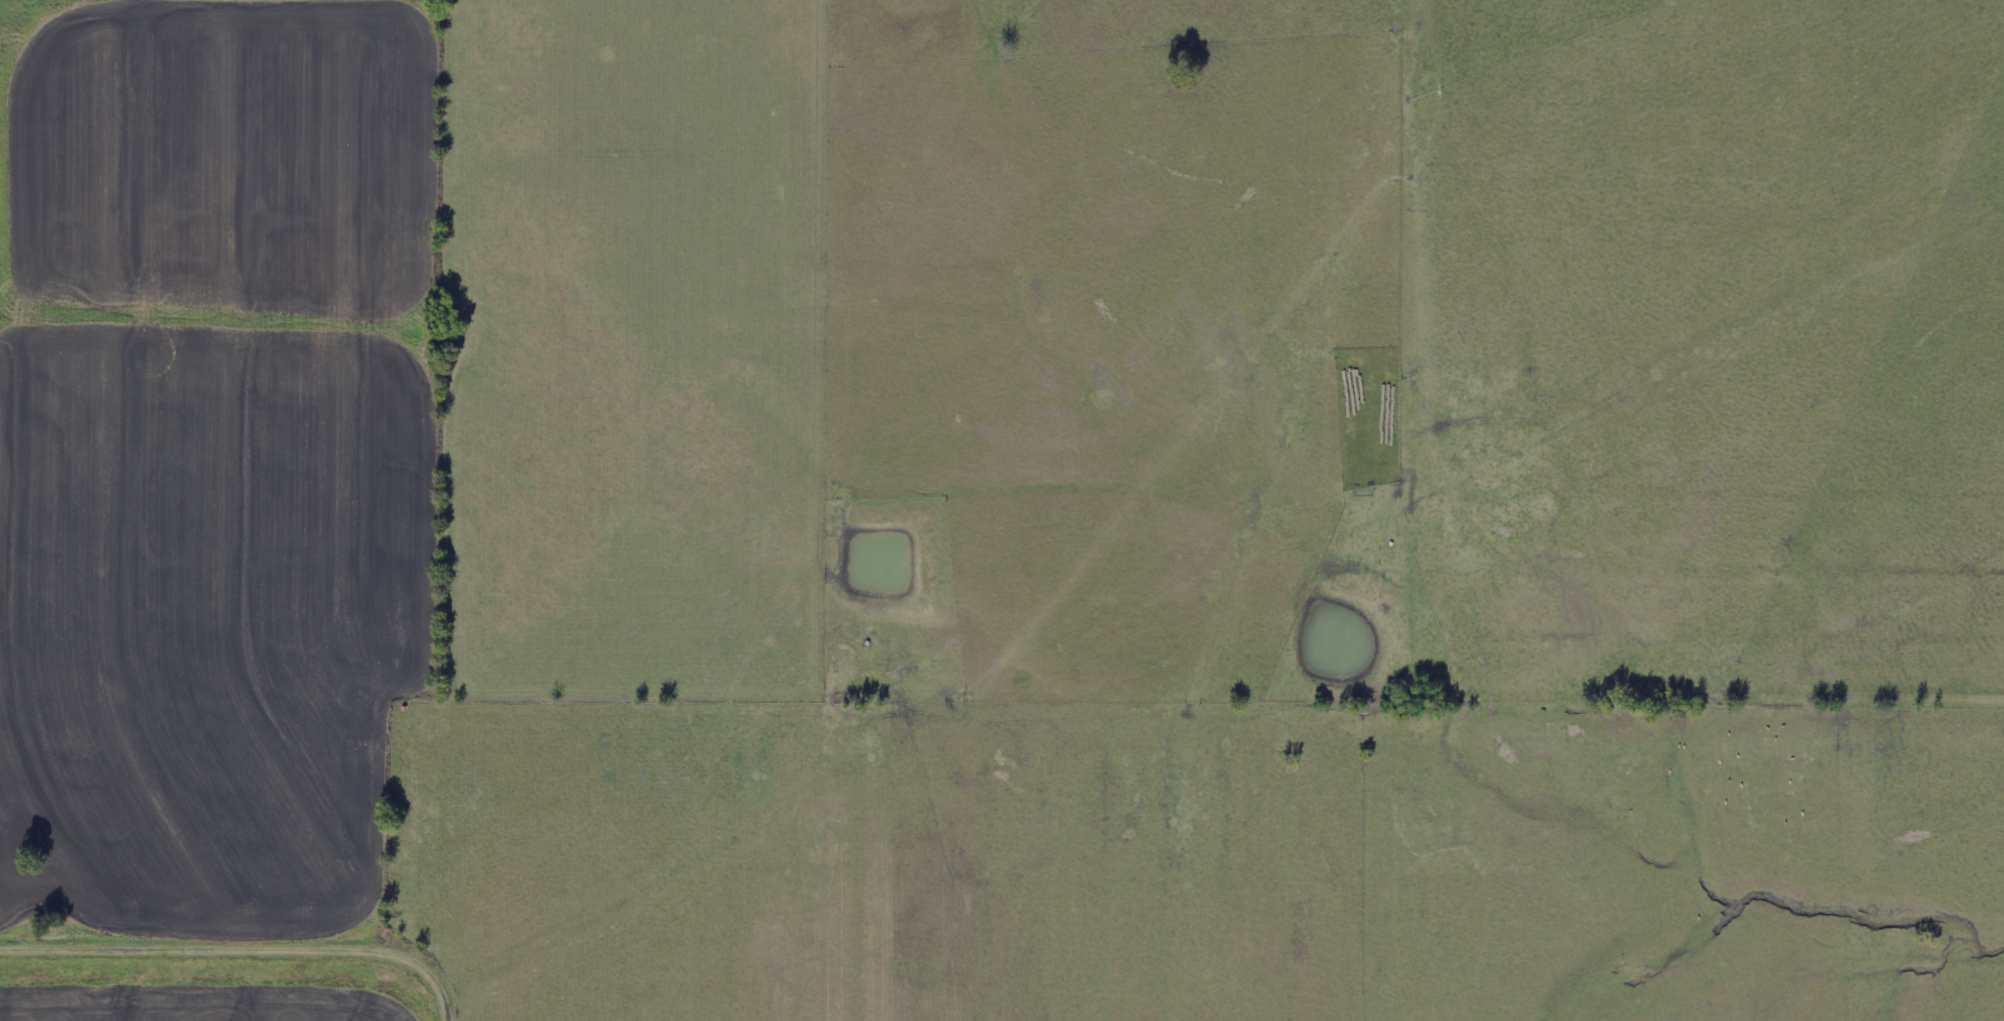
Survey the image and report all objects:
road: (245, 950)

